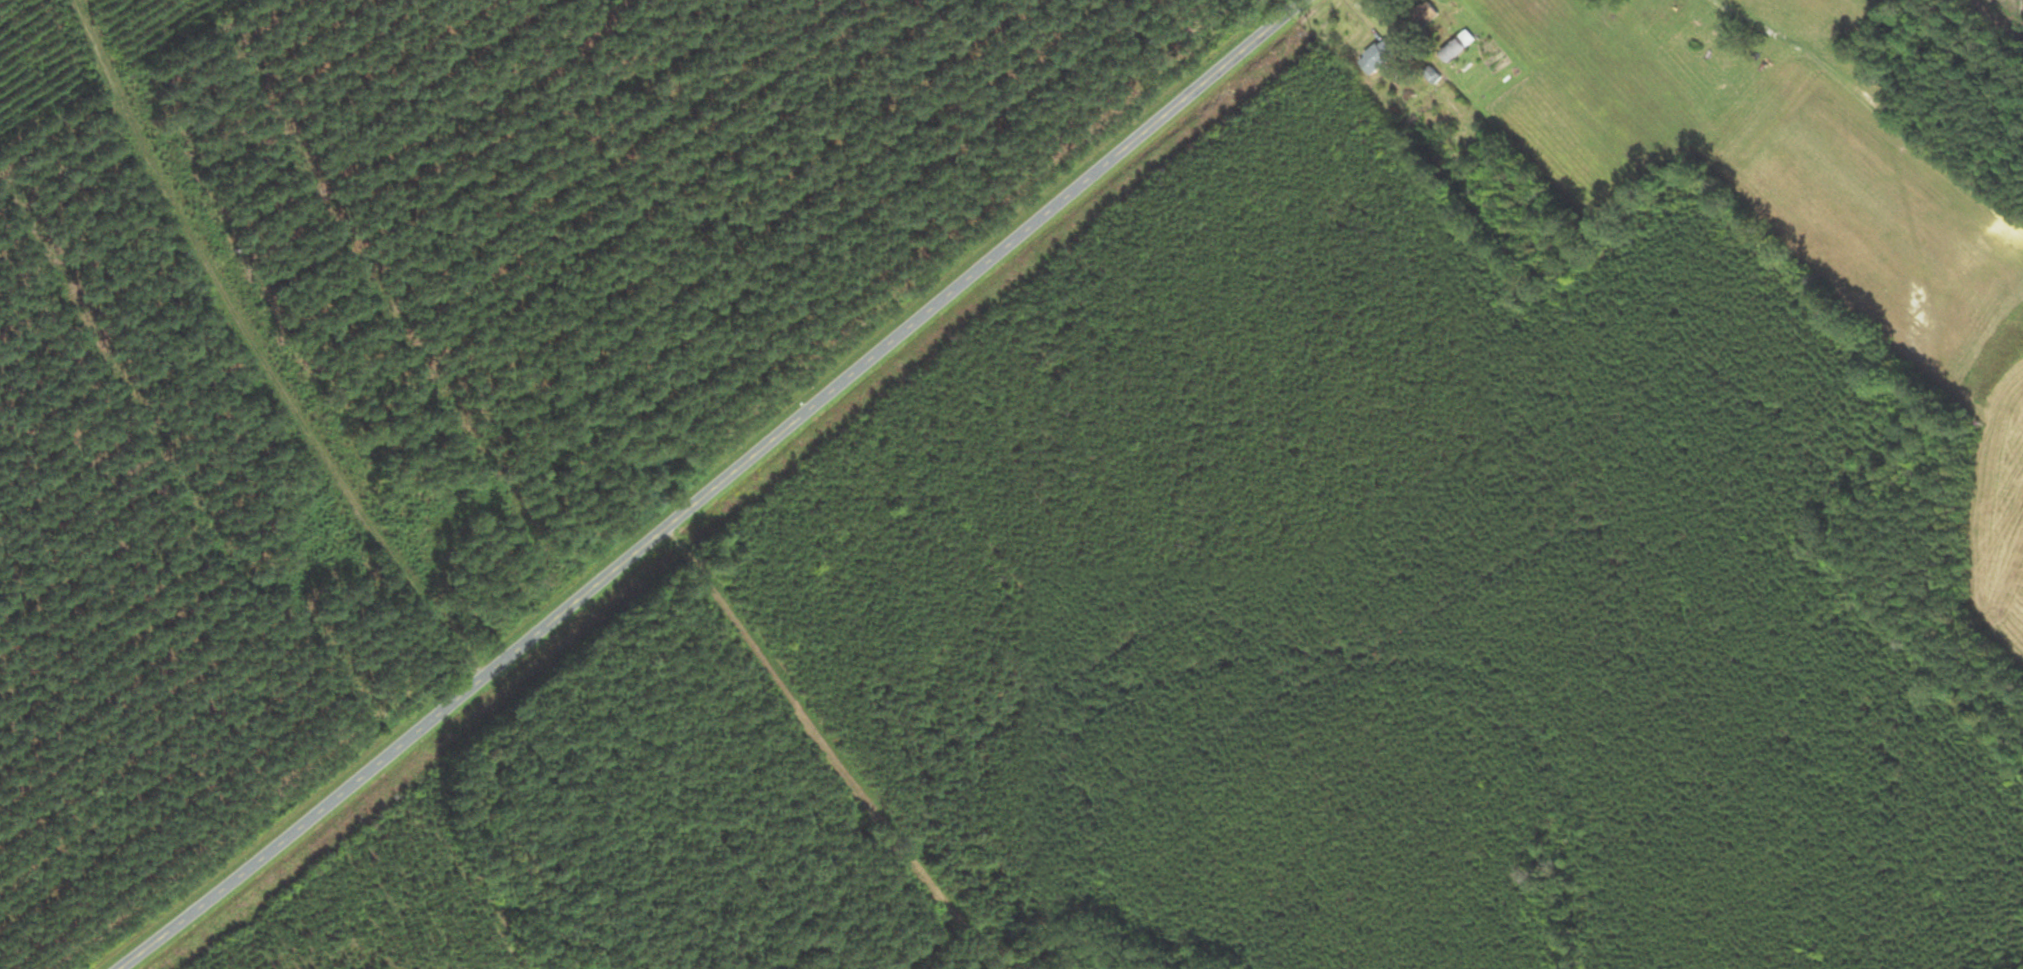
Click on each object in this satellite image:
building: (1417, 19)
building: (1455, 47)
building: (1375, 58)
road: (708, 487)

